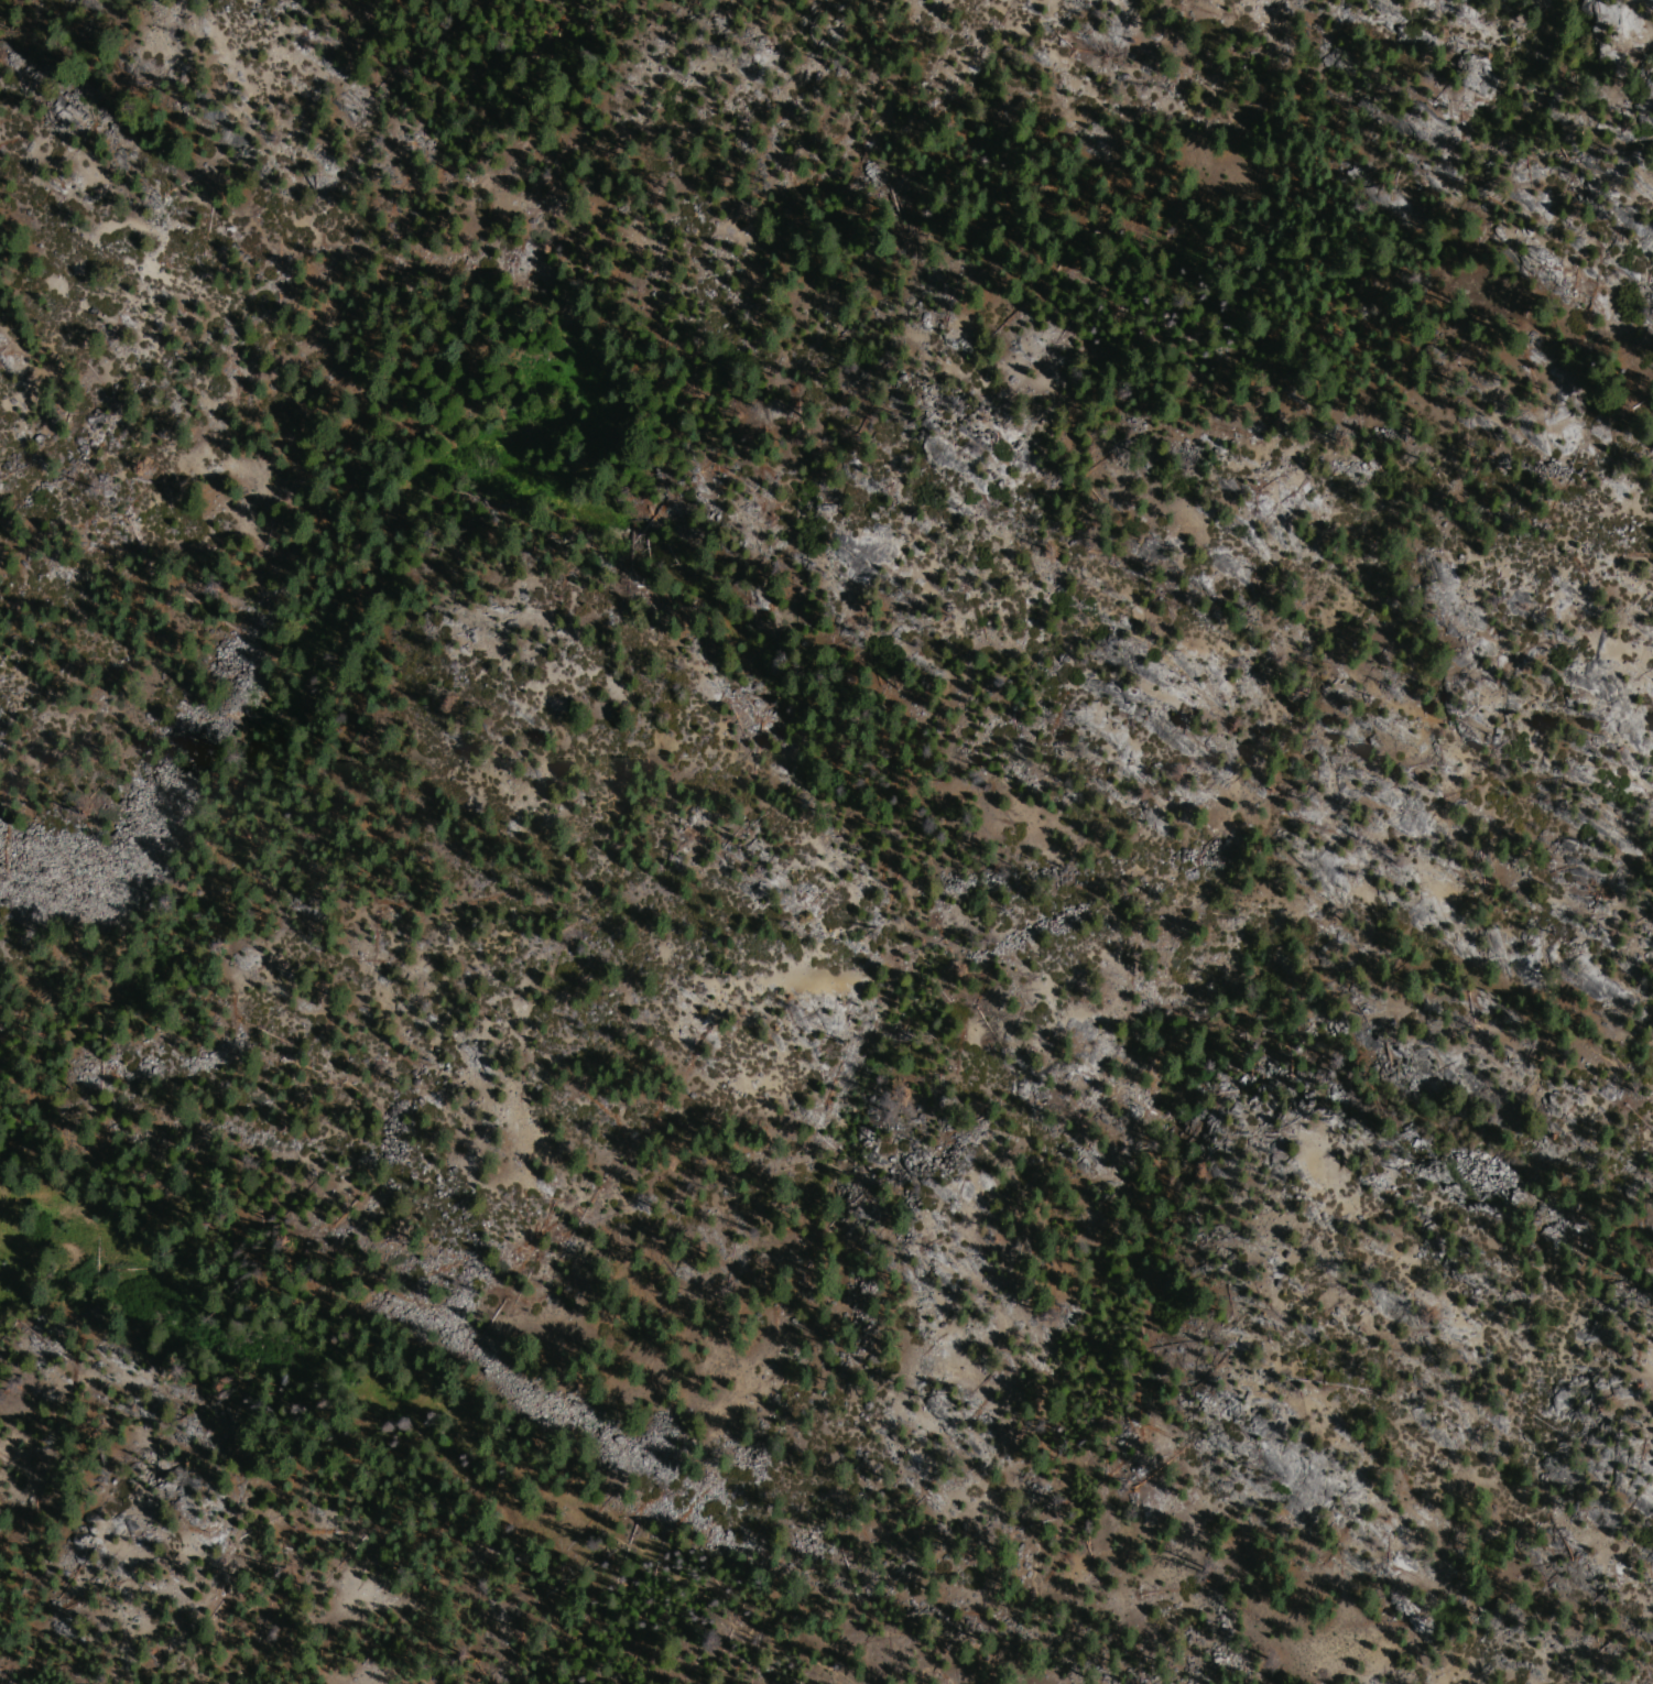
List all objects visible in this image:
road: (497, 1372)

